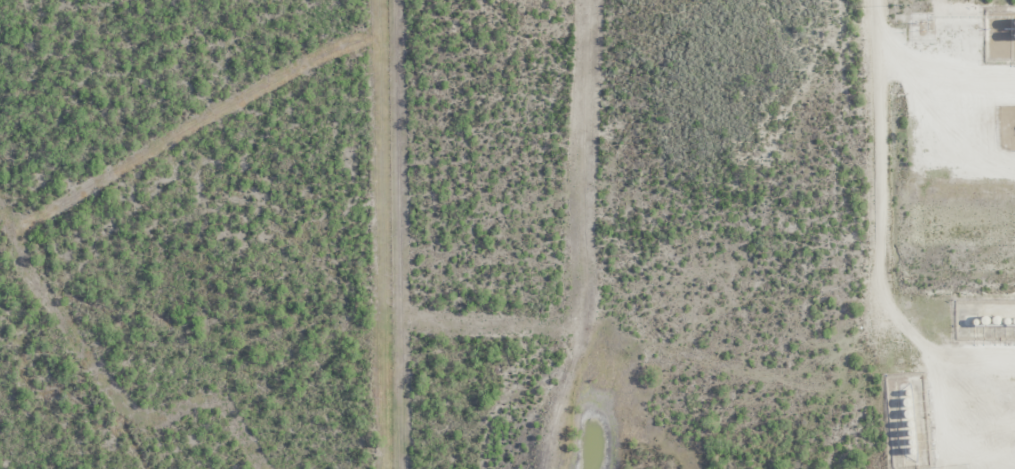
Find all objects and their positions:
road: (911, 66)
road: (878, 217)

